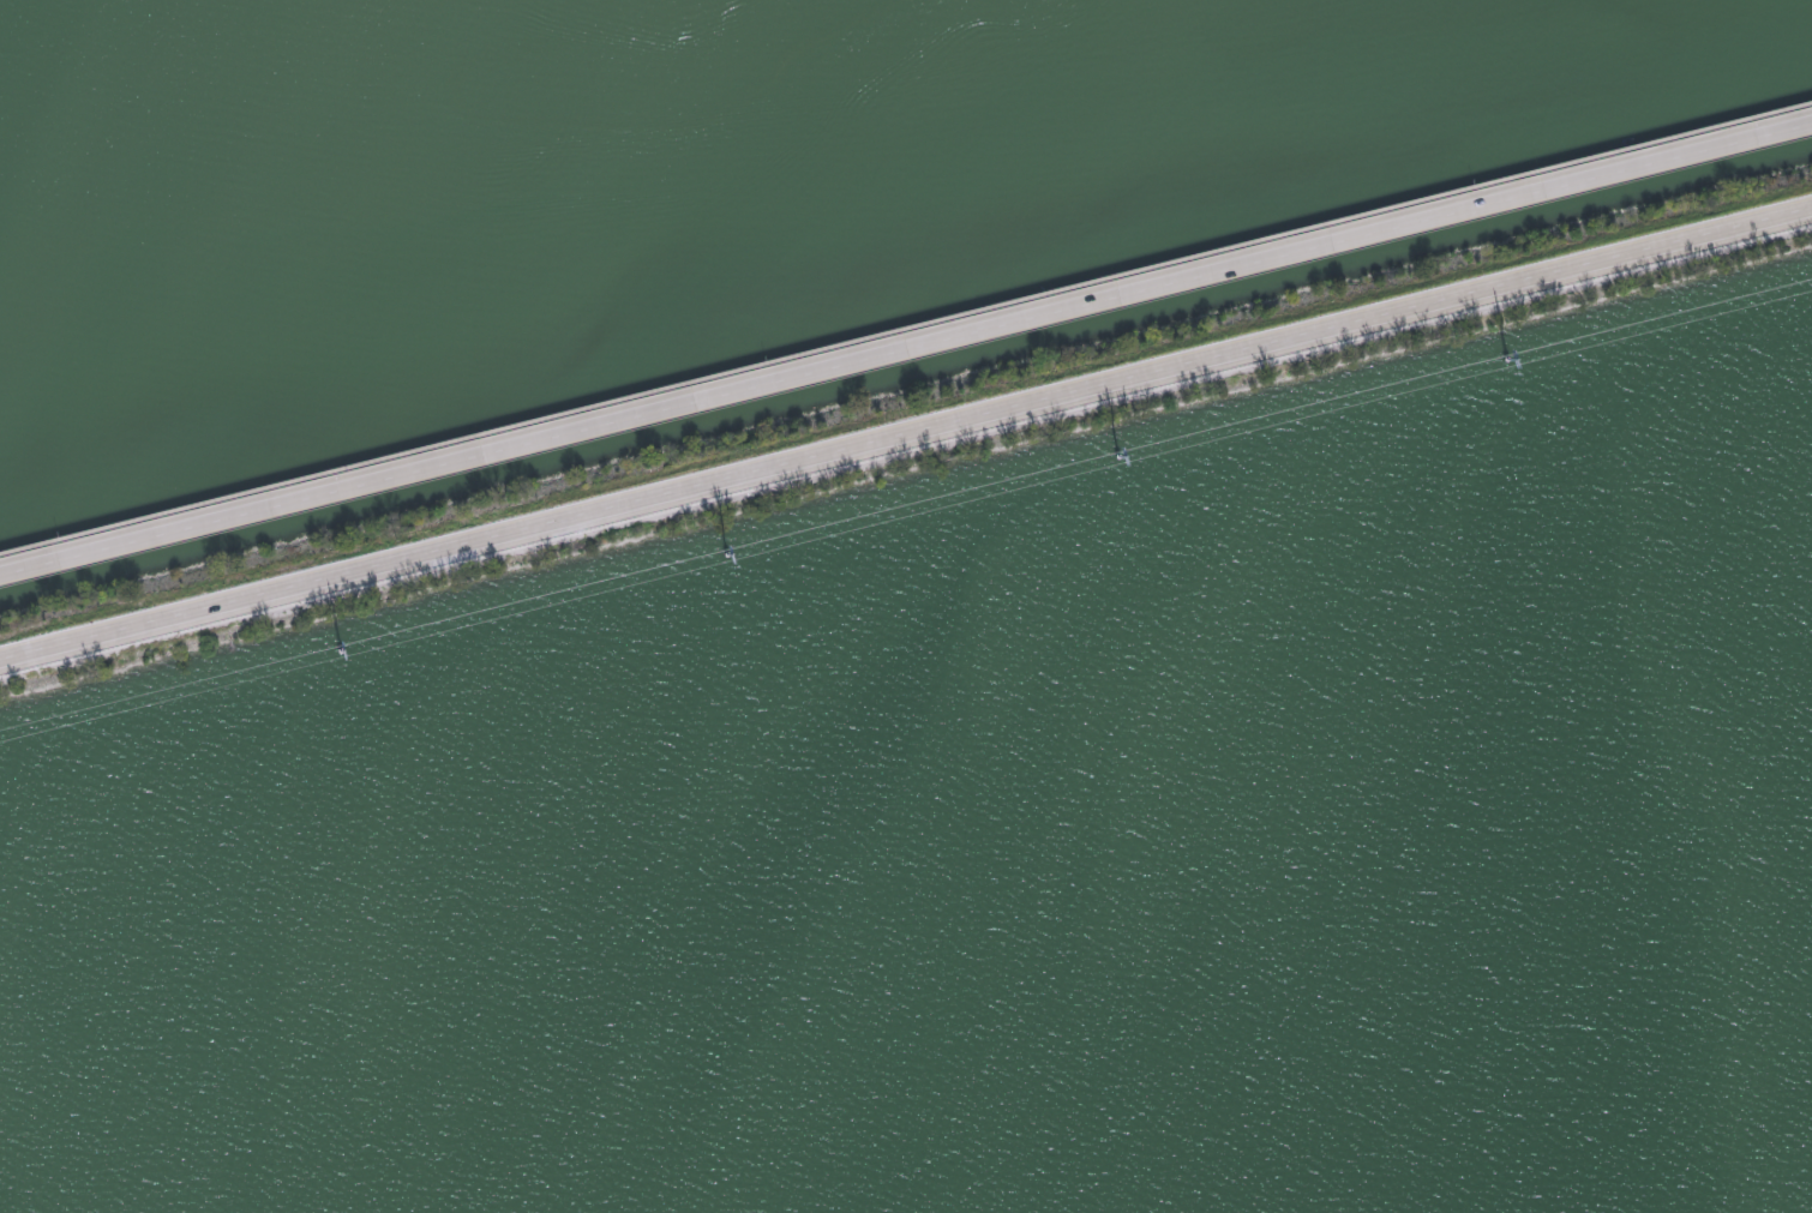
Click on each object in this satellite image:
road: (906, 332)
road: (905, 346)
power tower: (1510, 361)
road: (906, 430)
power tower: (1121, 458)
power tower: (727, 558)
power tower: (340, 654)

